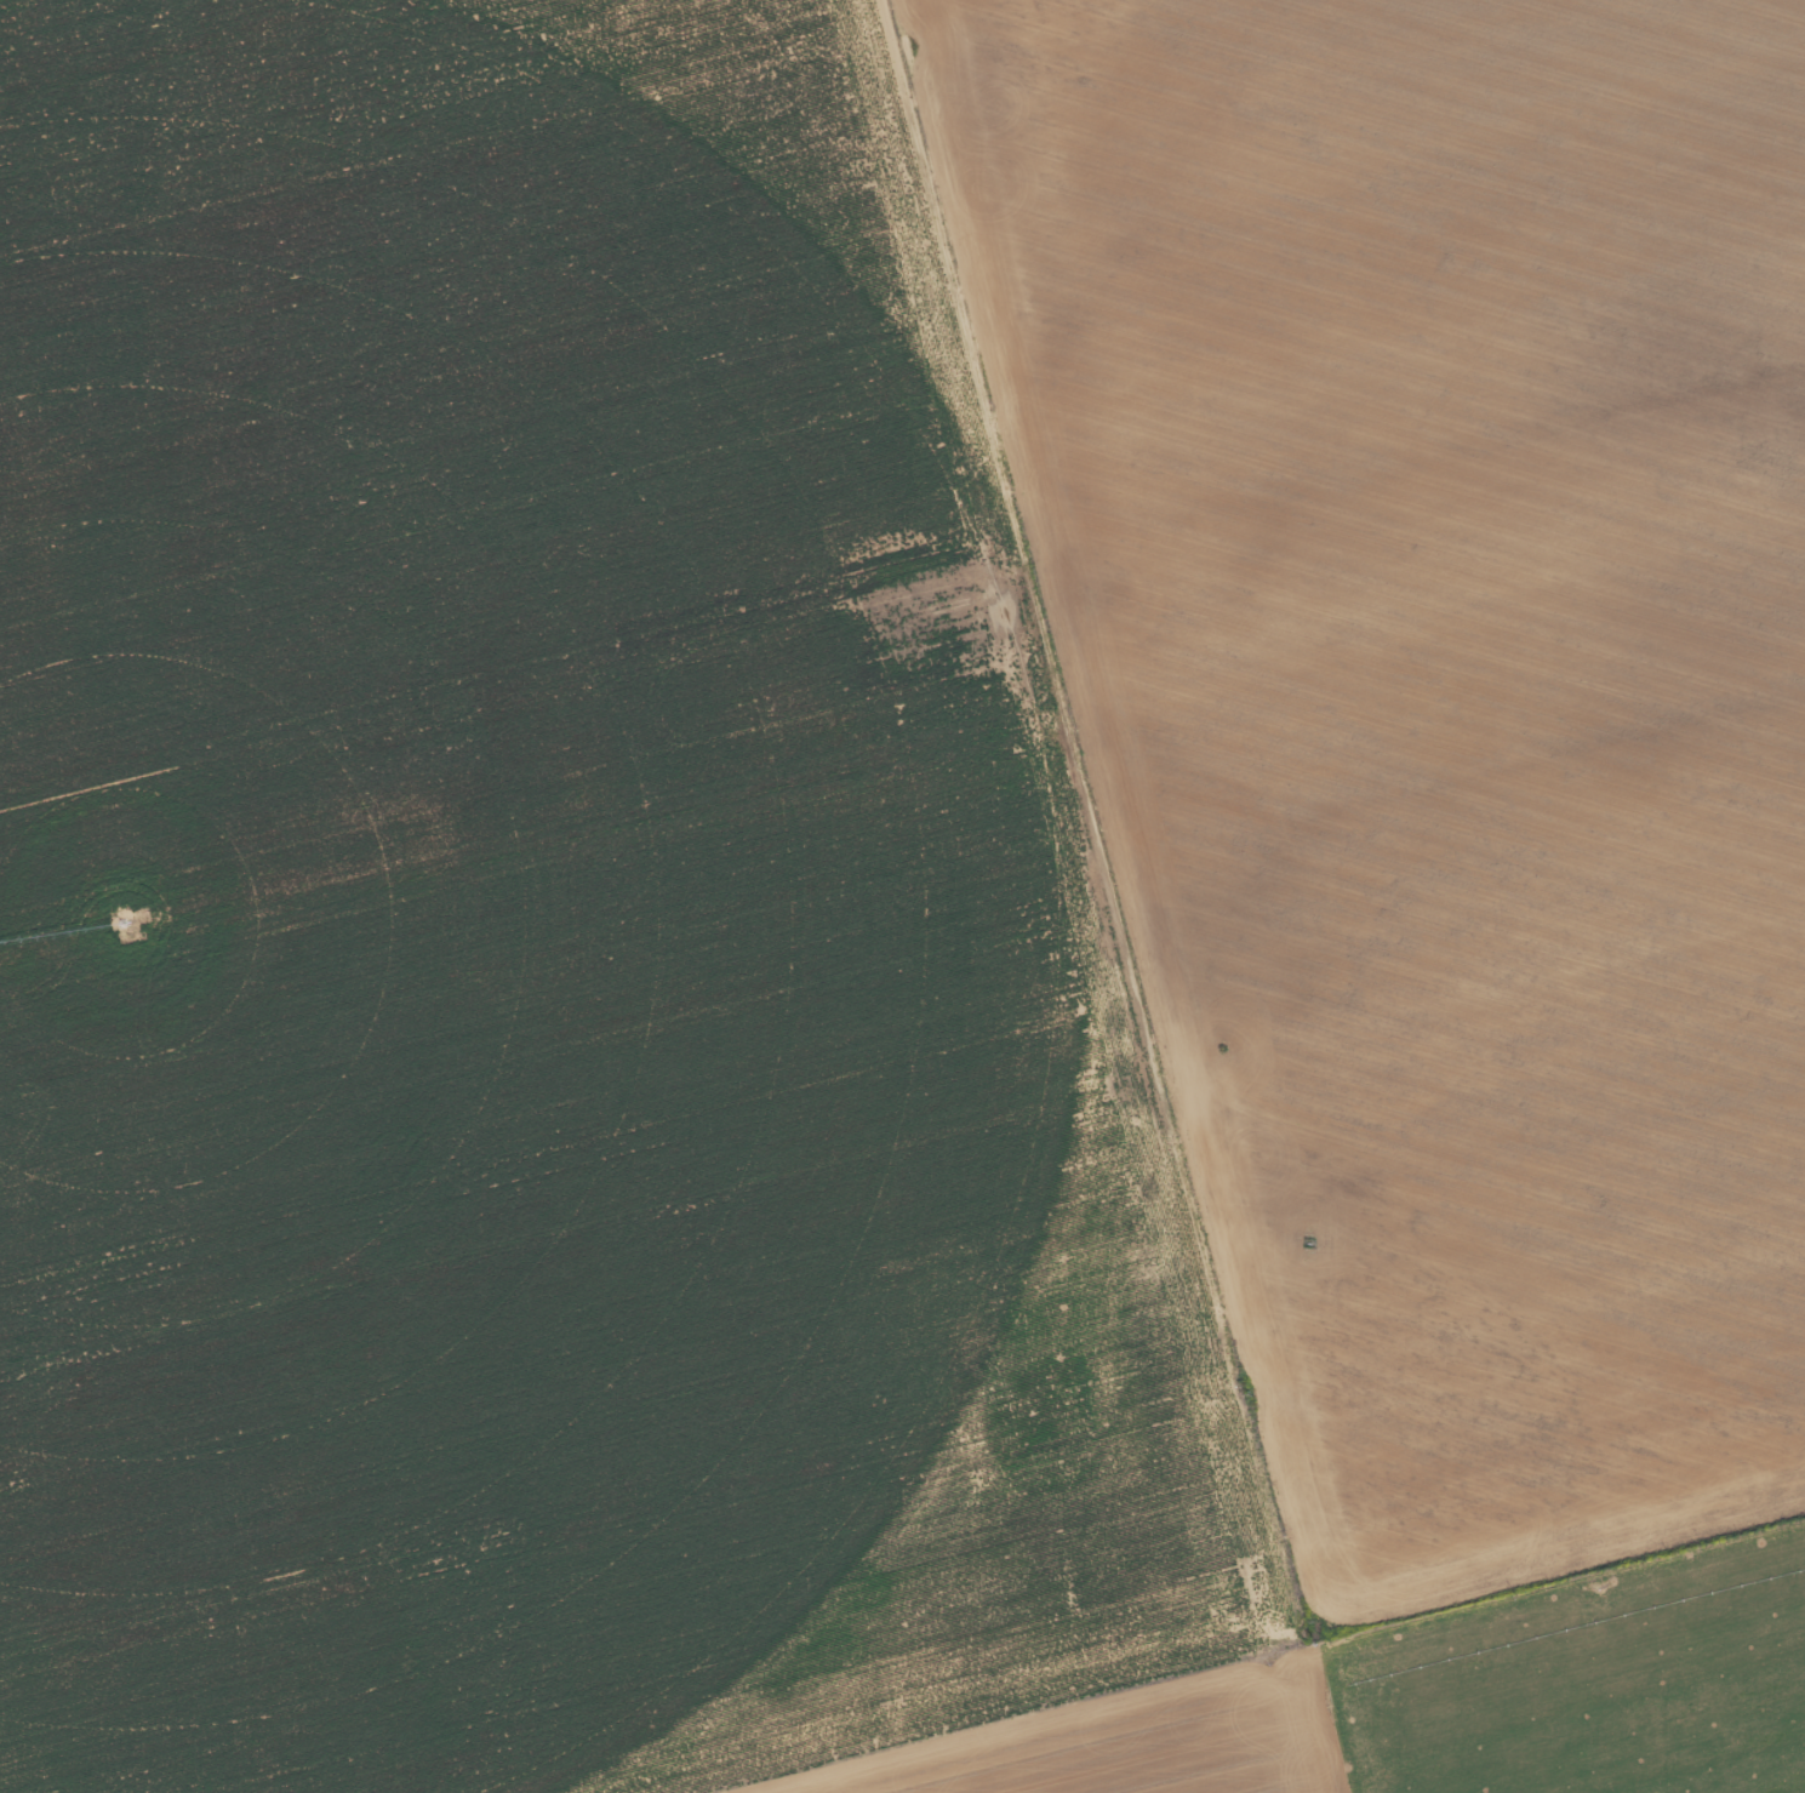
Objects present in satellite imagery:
road: (1518, 963)
road: (1263, 1303)

